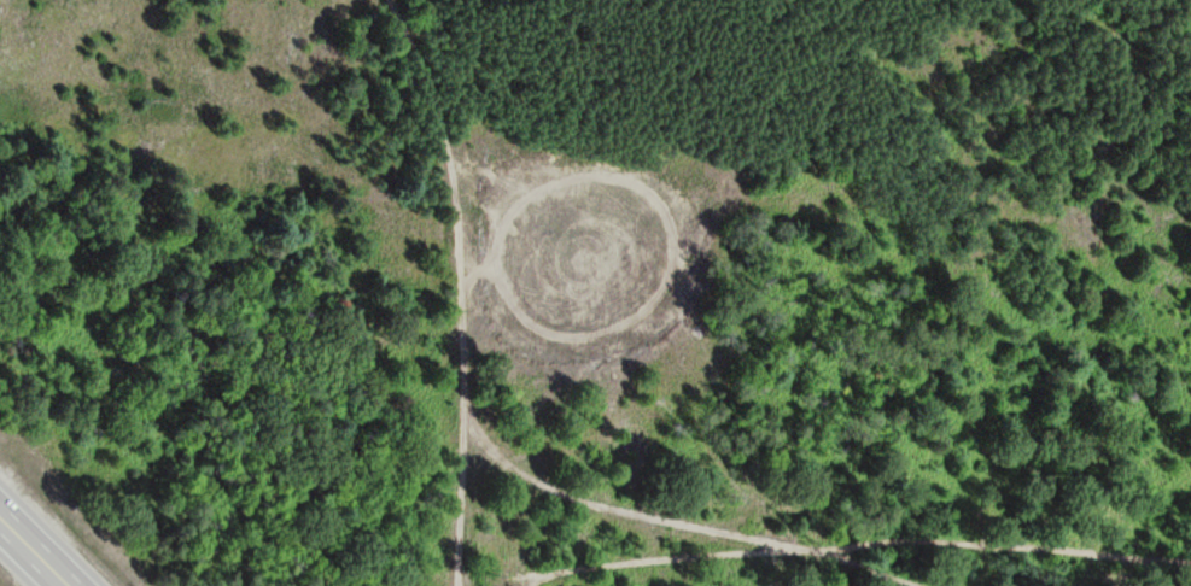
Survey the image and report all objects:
road: (466, 283)
road: (34, 551)
road: (777, 555)
road: (461, 584)

